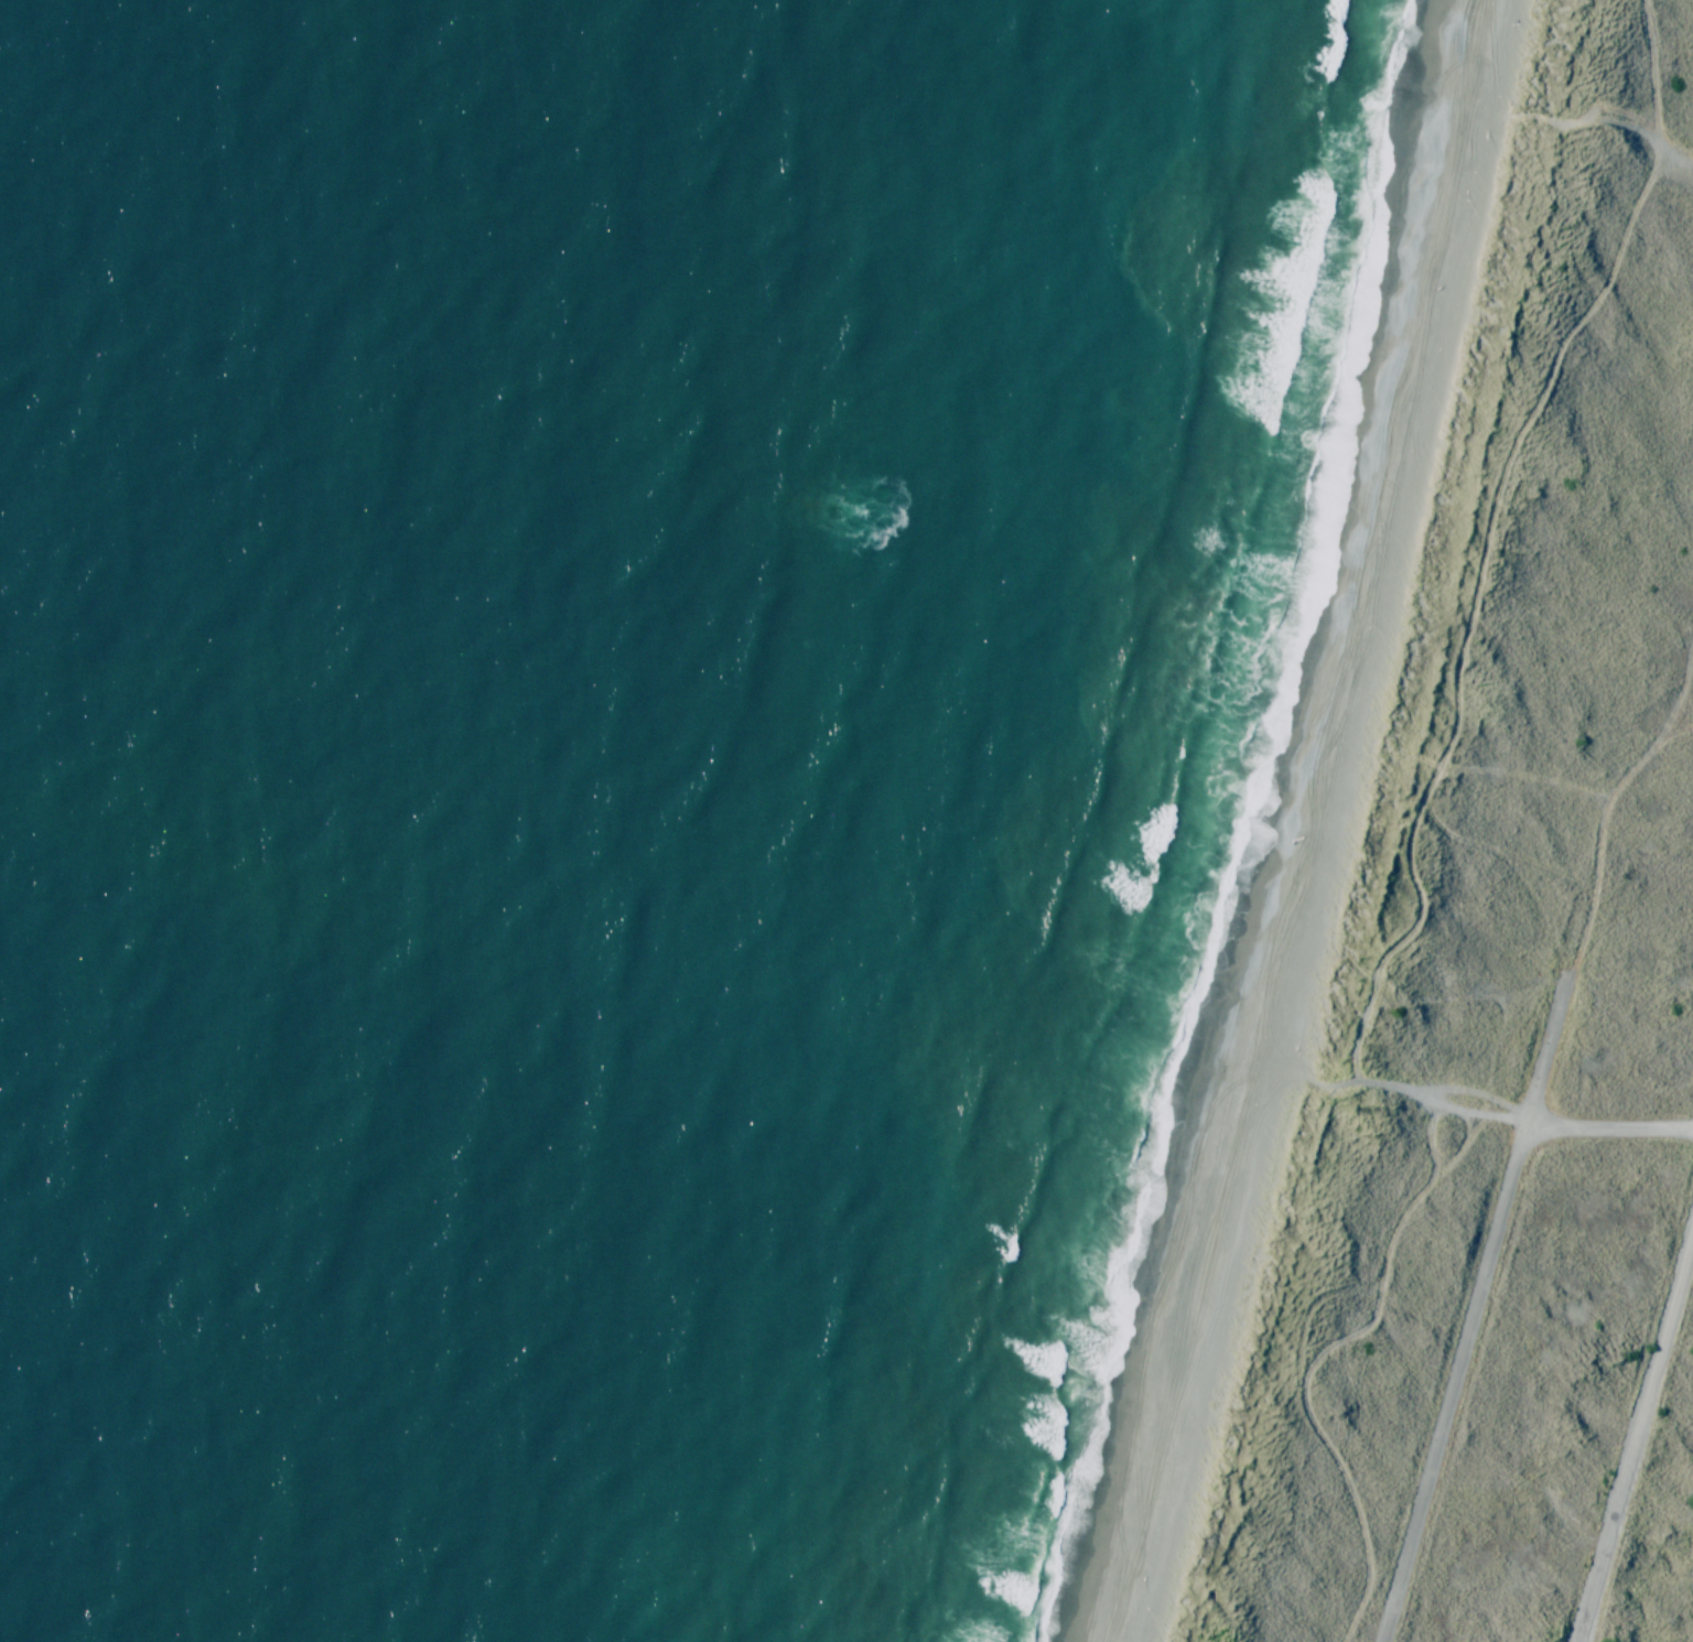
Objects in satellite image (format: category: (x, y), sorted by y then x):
road: (1412, 893)
road: (1614, 1128)
road: (1455, 1384)
road: (1637, 1437)

